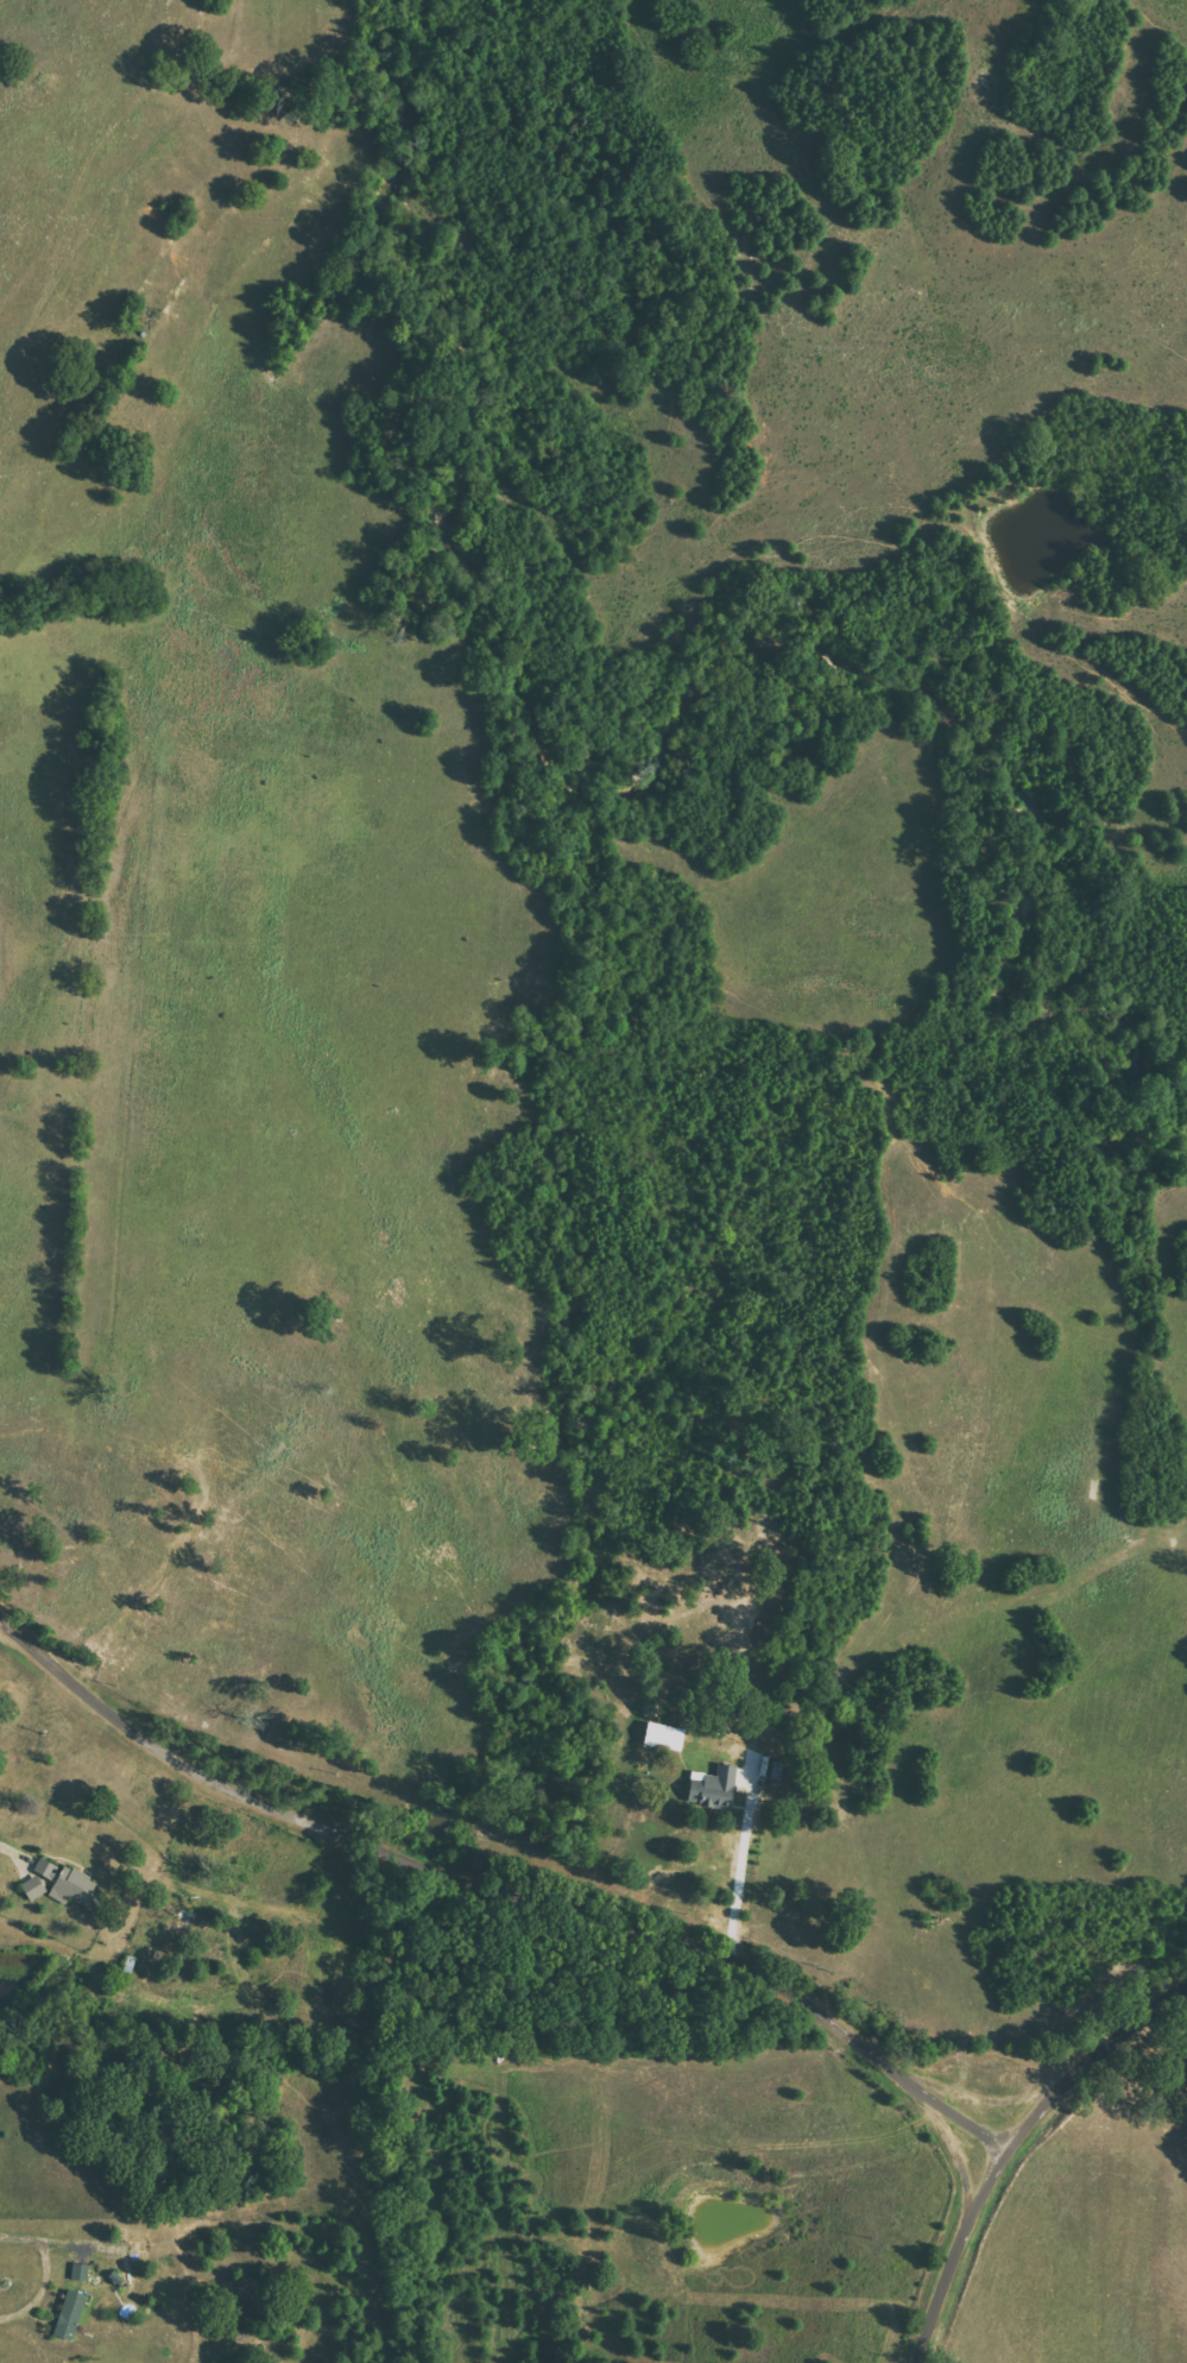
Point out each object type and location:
building: (665, 1735)
building: (715, 1787)
road: (12, 1851)
building: (48, 1869)
road: (499, 1883)
building: (34, 1886)
building: (76, 1886)
road: (735, 1890)
road: (1094, 2077)
road: (42, 2239)
road: (955, 2250)
building: (81, 2271)
building: (70, 2313)

